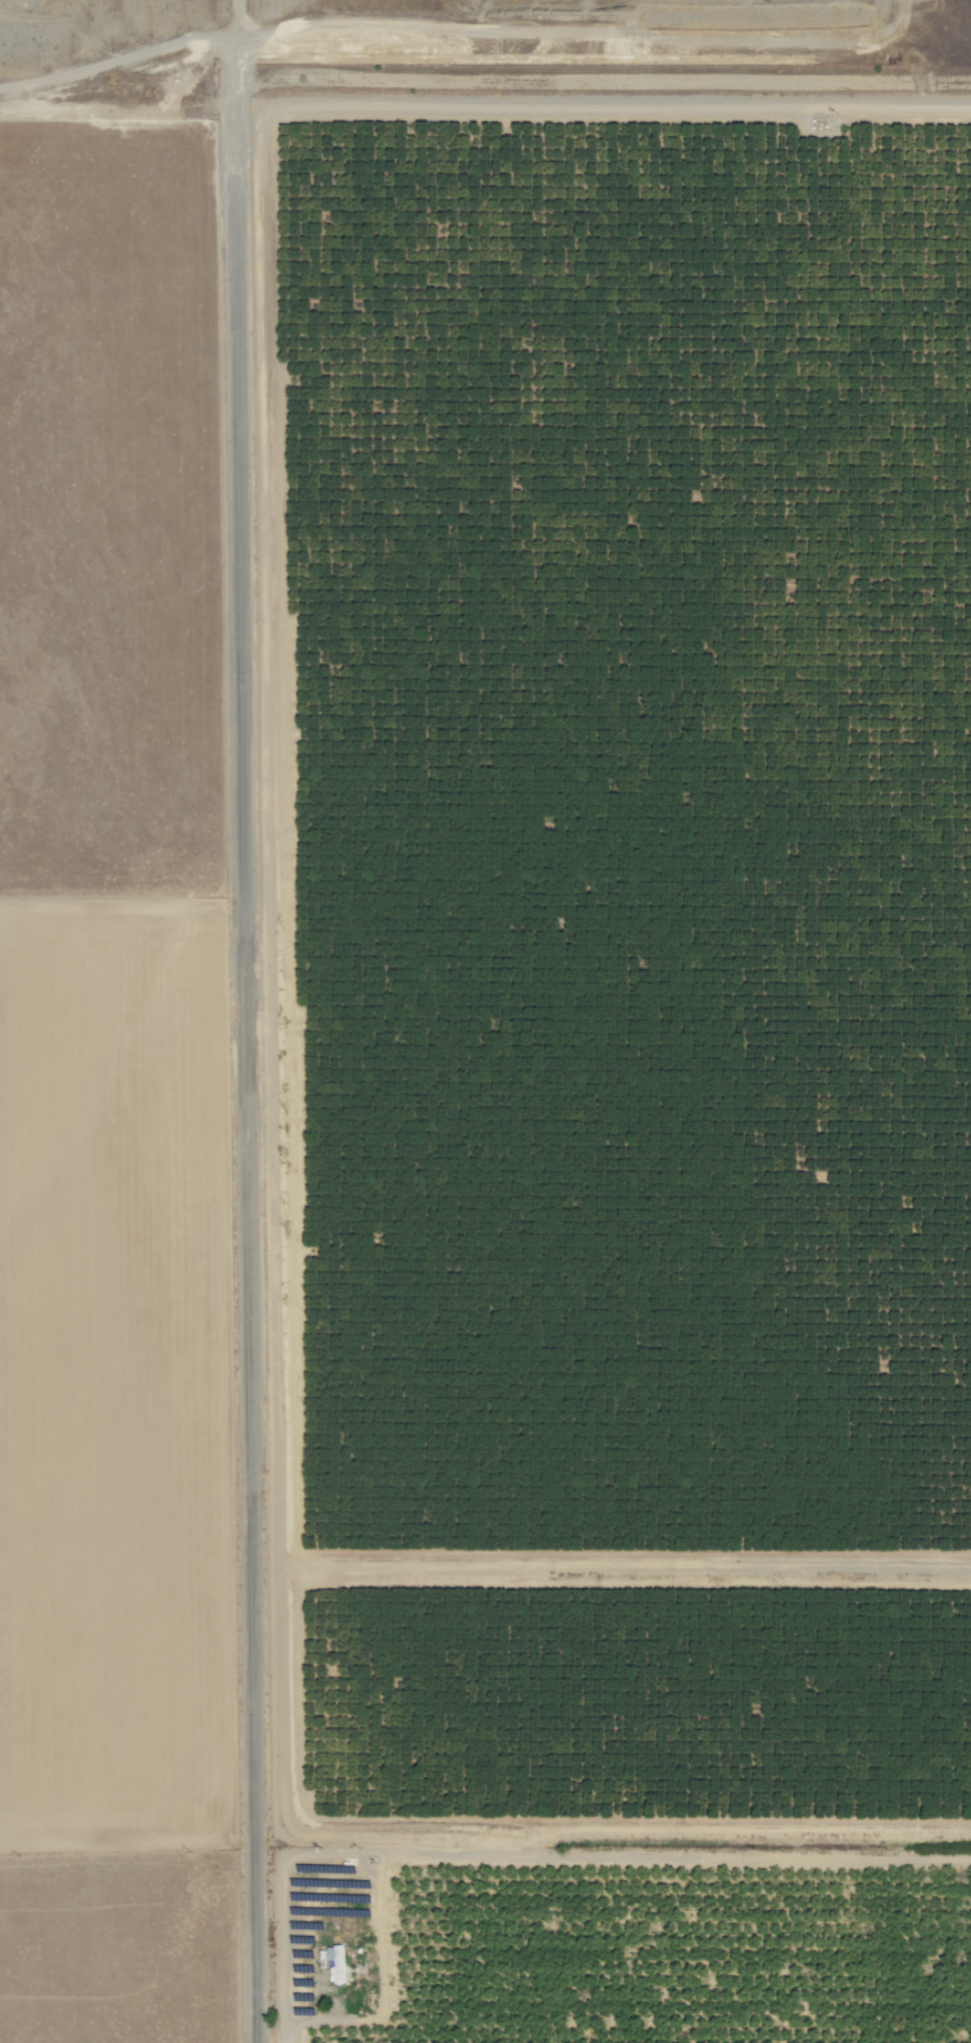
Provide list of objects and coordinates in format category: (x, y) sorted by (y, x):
quarry: (466, 51)
road: (475, 106)
road: (253, 1074)
building: (336, 1963)

